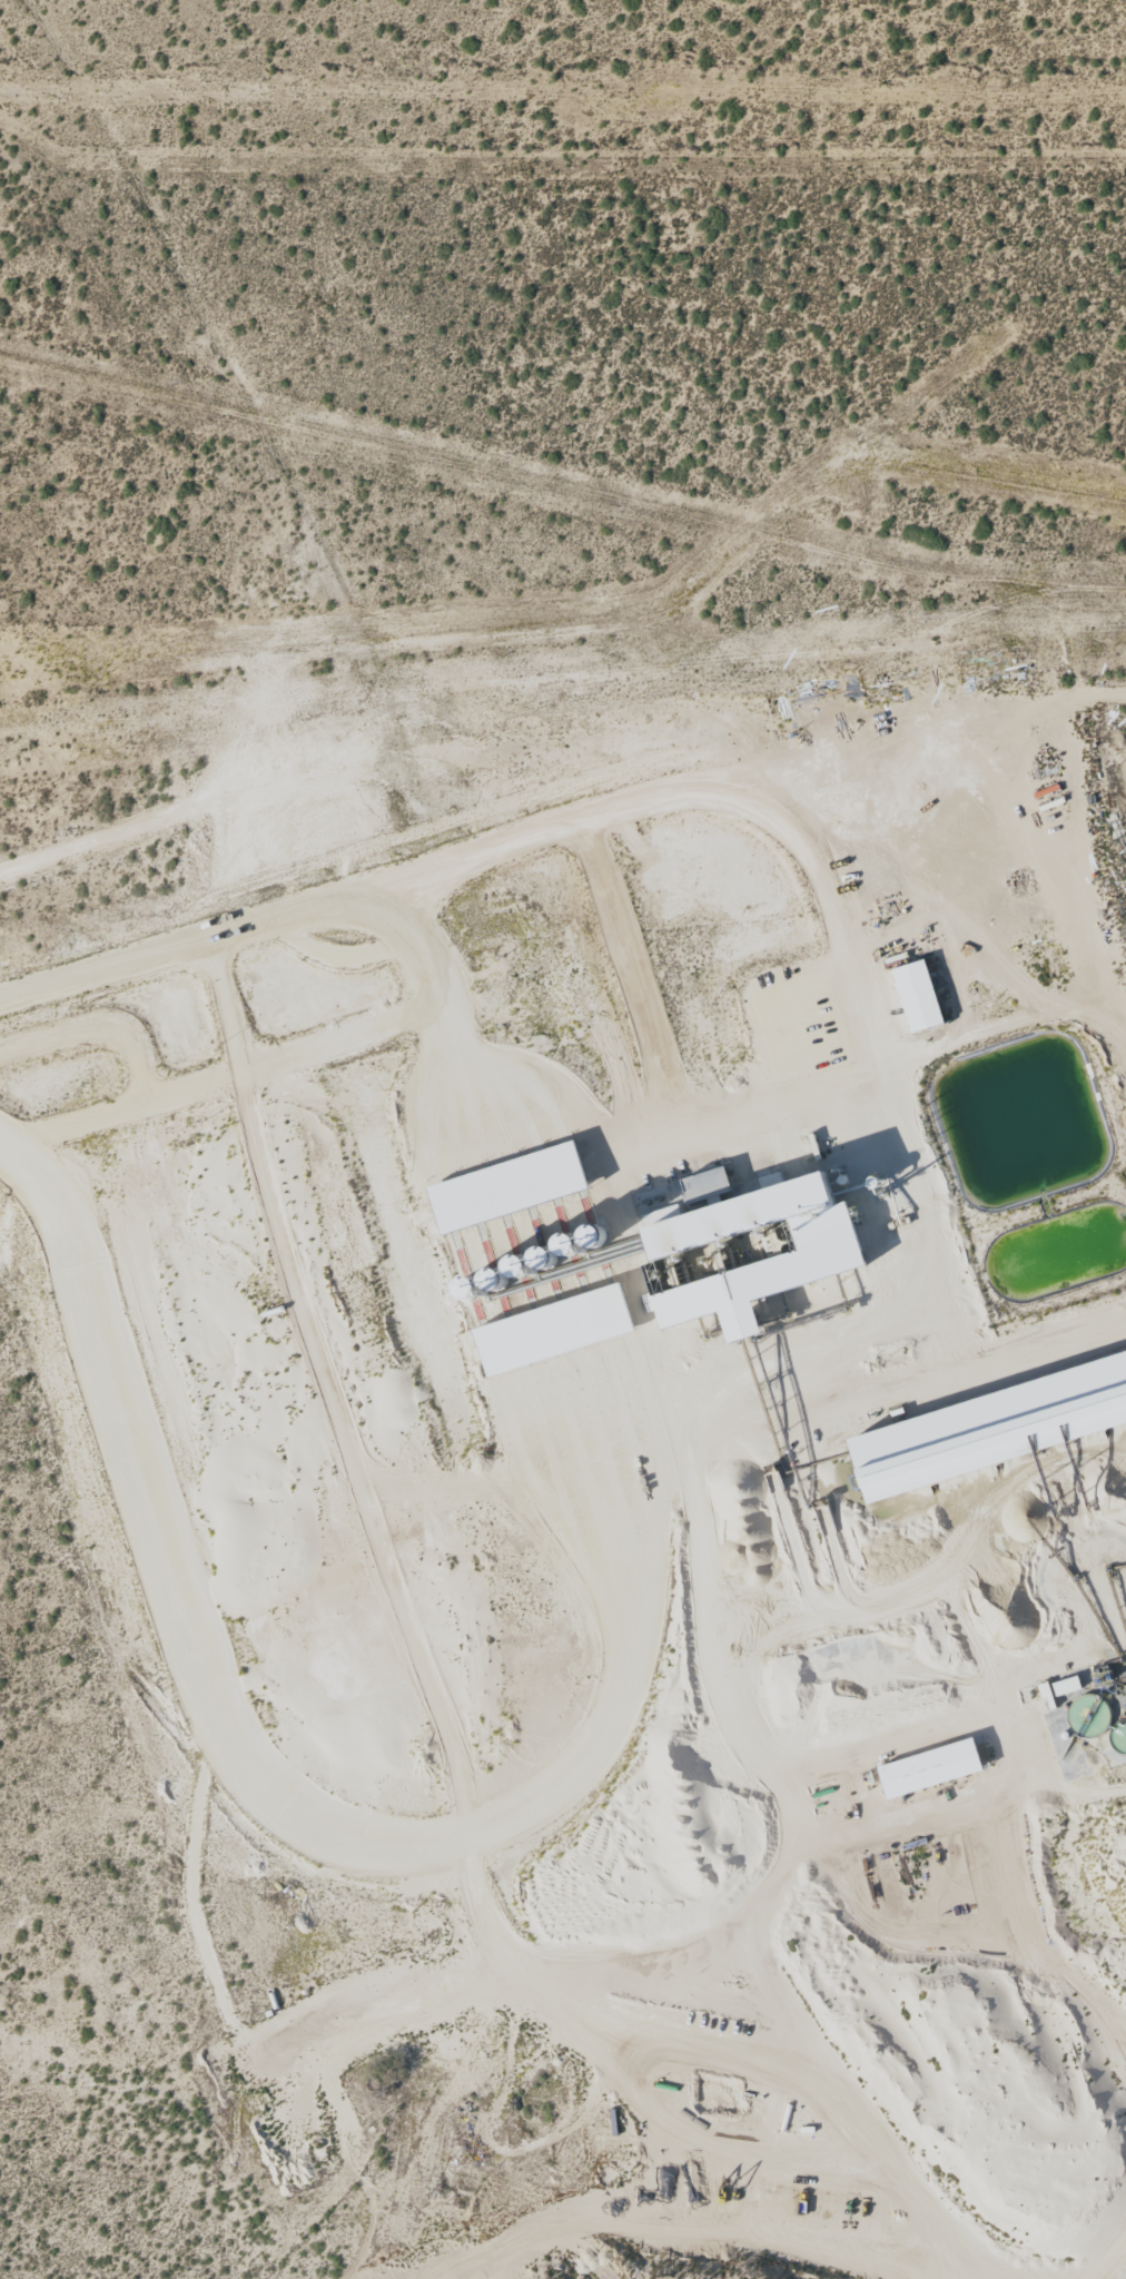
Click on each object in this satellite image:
road: (85, 831)
building: (920, 995)
building: (513, 1186)
building: (559, 1329)
building: (976, 1444)
quarry: (631, 1486)
building: (1059, 1688)
building: (931, 1768)

